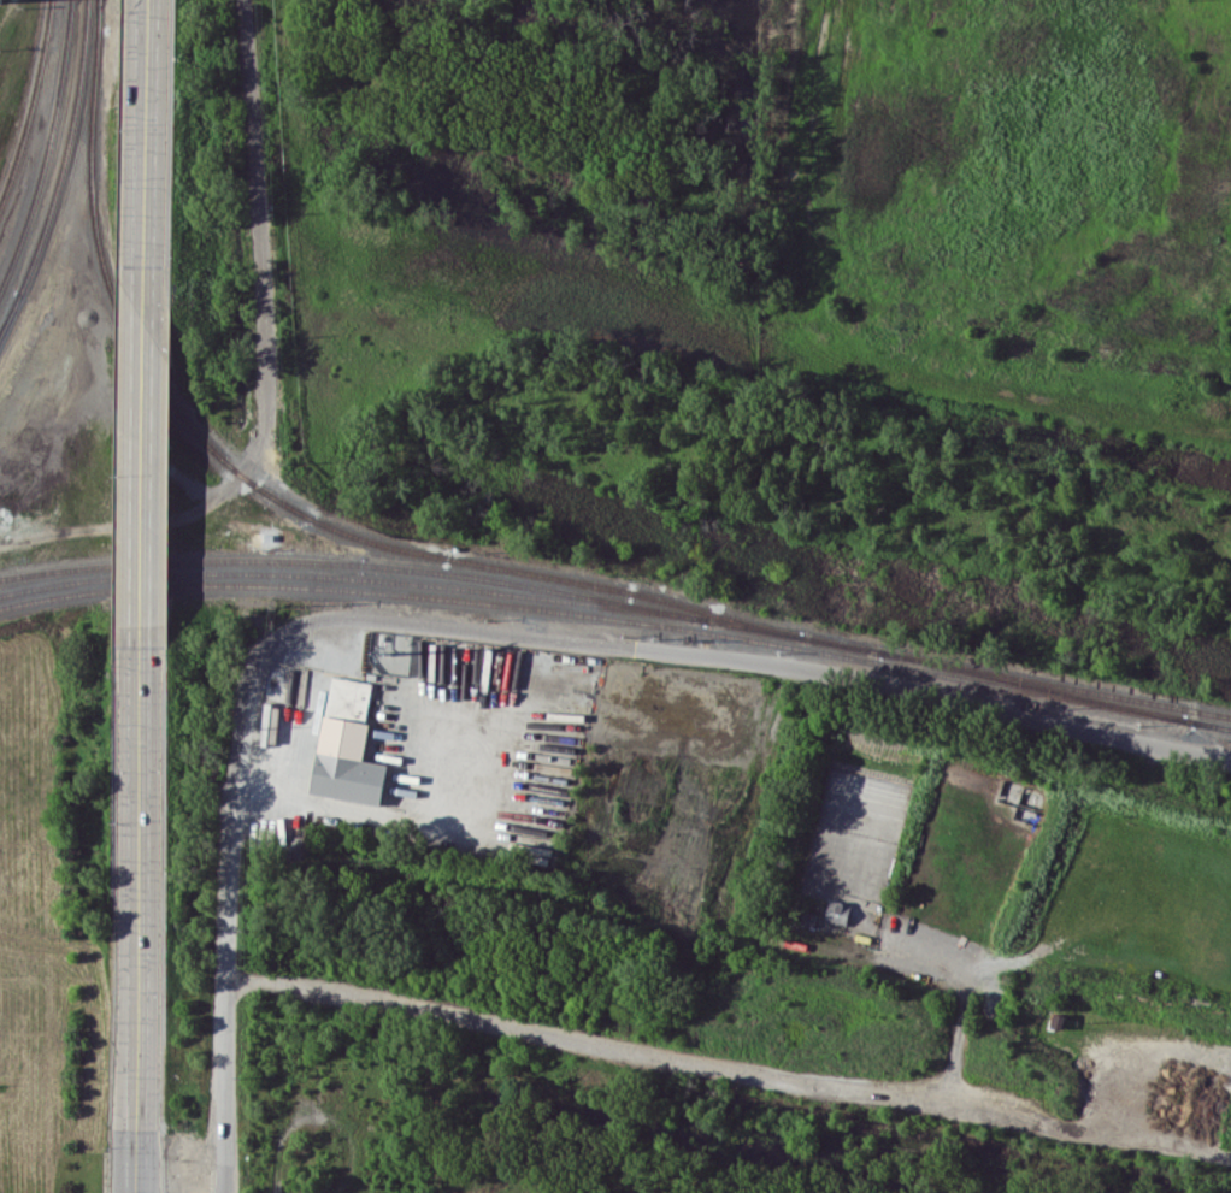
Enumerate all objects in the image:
railway: (28, 104)
railway: (47, 147)
railway: (64, 148)
road: (145, 155)
railway: (10, 311)
railway: (10, 314)
road: (142, 476)
railway: (269, 494)
railway: (442, 574)
railway: (352, 578)
railway: (595, 614)
road: (337, 621)
railway: (1055, 684)
railway: (1032, 685)
road: (986, 704)
railway: (1189, 720)
railway: (1212, 724)
railway: (1212, 725)
building: (346, 743)
road: (391, 815)
building: (837, 911)
road: (139, 916)
road: (619, 1046)

